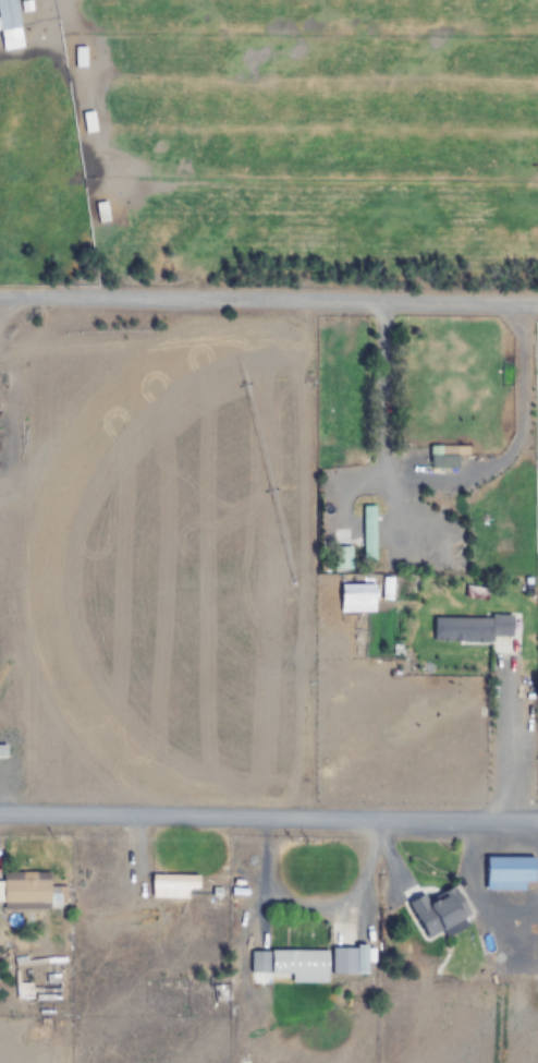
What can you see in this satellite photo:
building: (8, 16)
road: (269, 302)
building: (440, 456)
building: (367, 529)
building: (342, 557)
building: (473, 628)
building: (2, 751)
road: (269, 811)
building: (508, 872)
building: (171, 884)
building: (25, 891)
building: (438, 910)
building: (36, 994)

